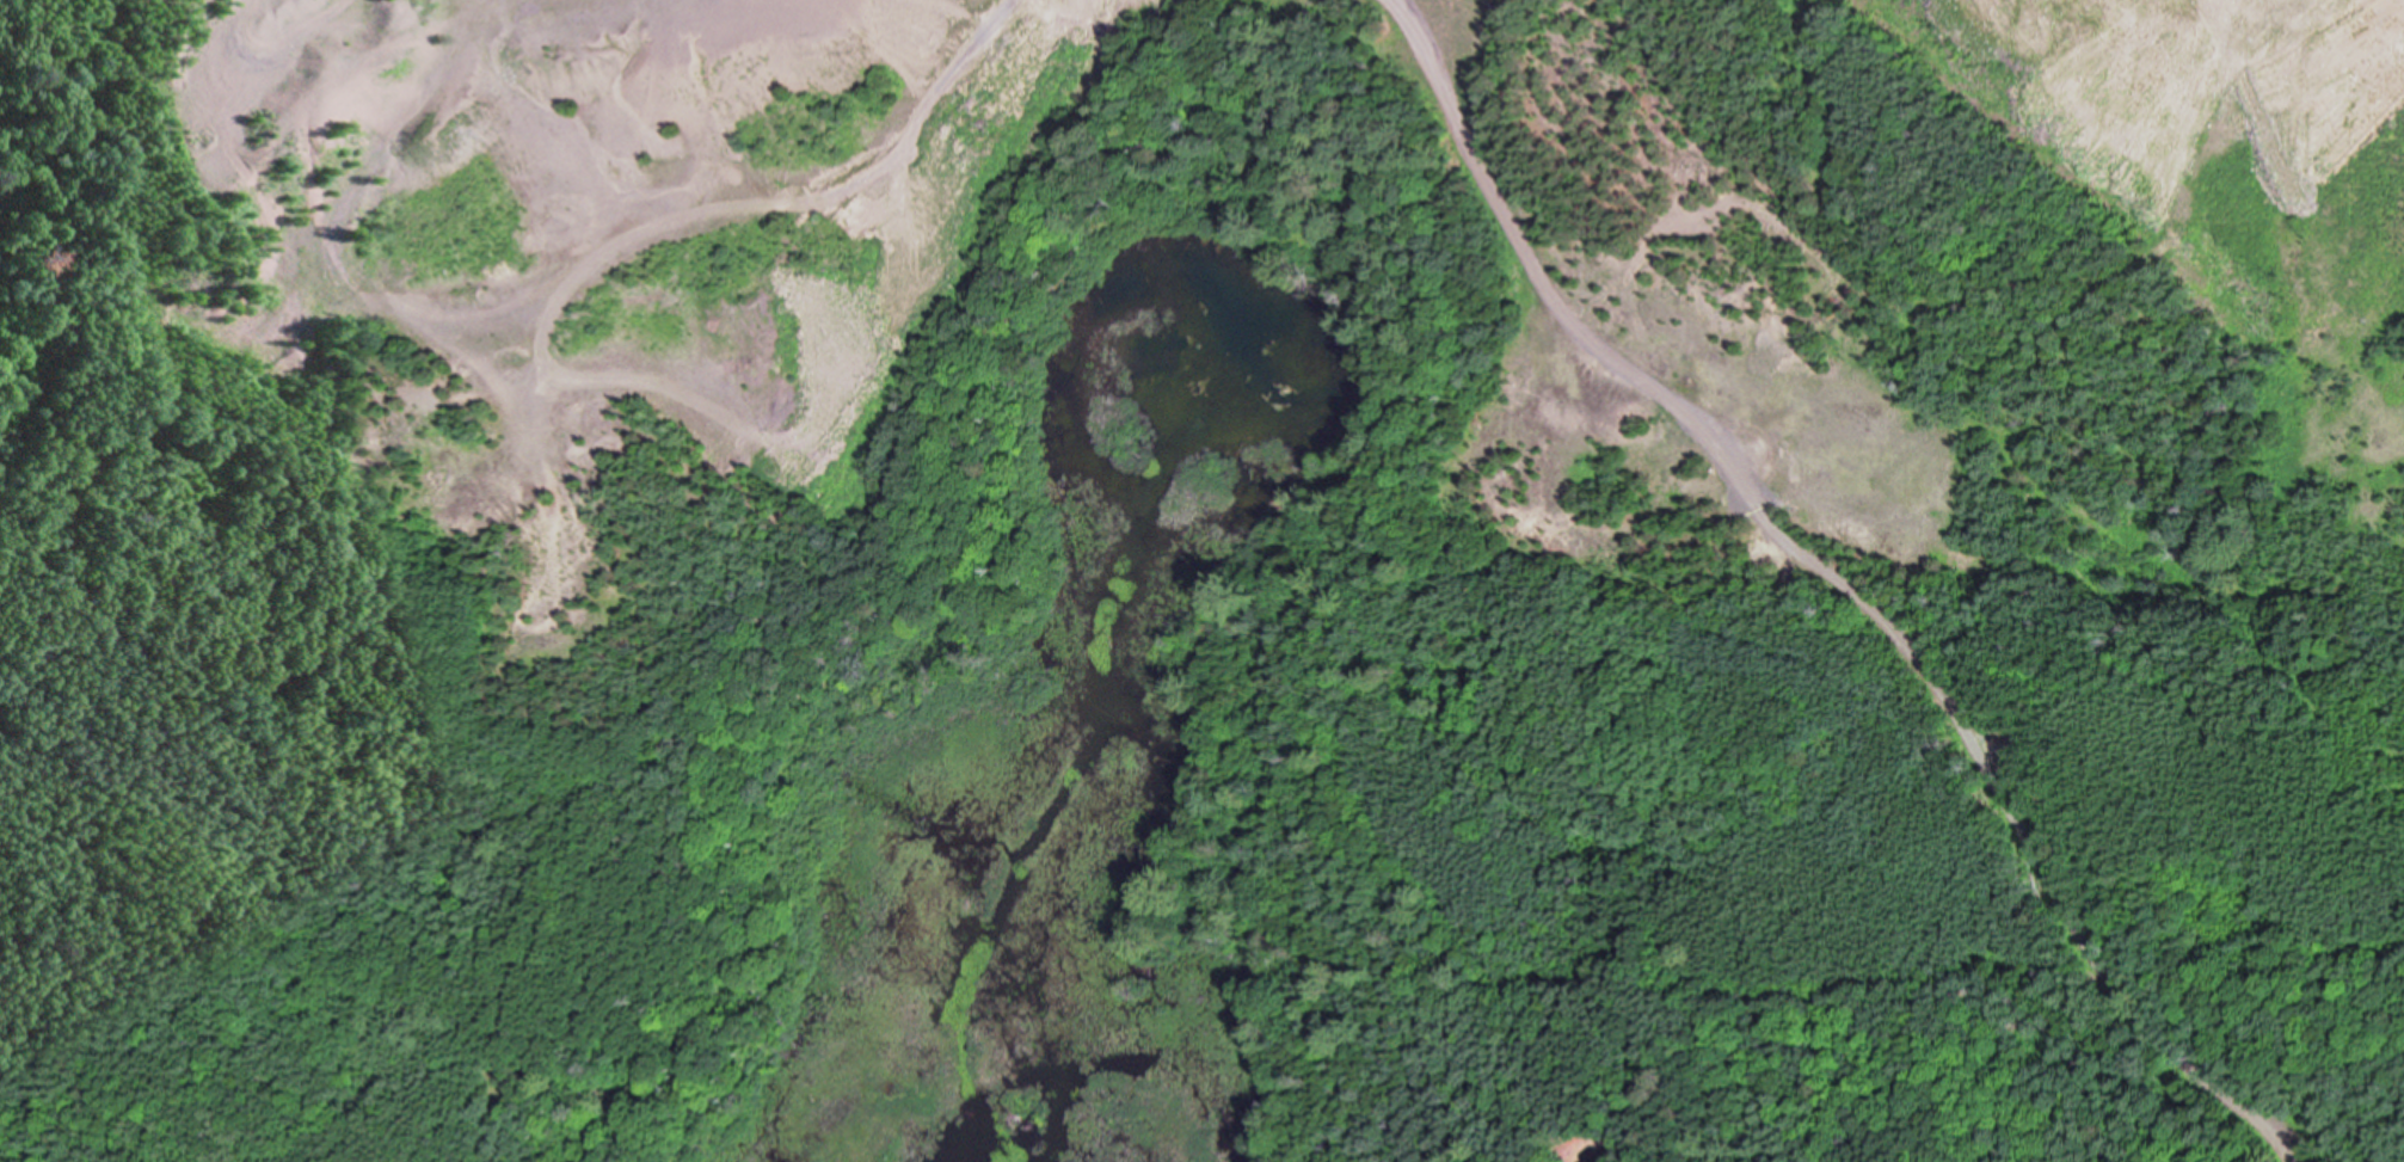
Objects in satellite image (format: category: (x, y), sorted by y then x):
quarry: (572, 258)
quarry: (1167, 486)
road: (1833, 584)

